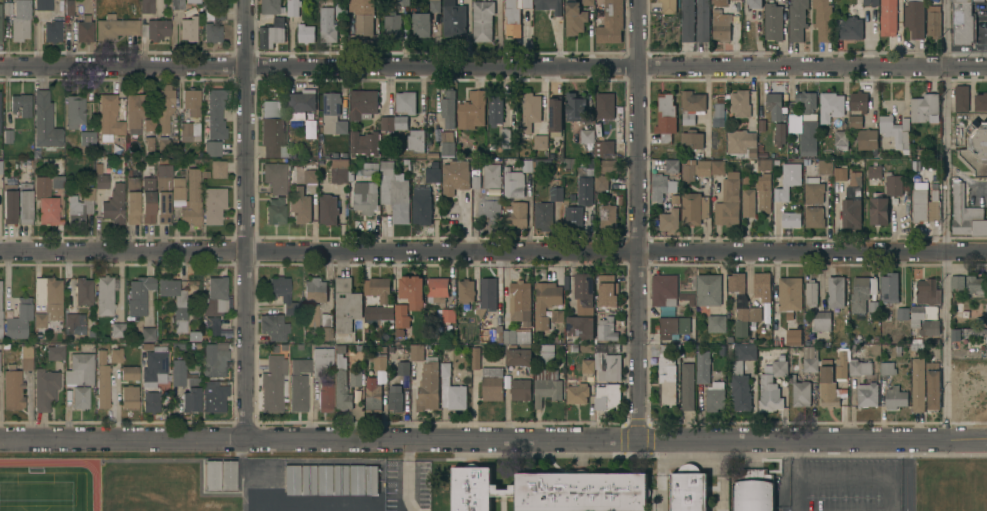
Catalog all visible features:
building: (731, 0)
building: (963, 0)
building: (192, 1)
building: (403, 2)
building: (588, 2)
building: (720, 2)
building: (870, 2)
building: (754, 3)
building: (527, 4)
building: (42, 5)
building: (176, 5)
building: (549, 5)
building: (146, 6)
building: (435, 6)
building: (668, 6)
building: (271, 7)
building: (293, 7)
building: (7, 8)
building: (68, 8)
building: (340, 9)
building: (213, 14)
building: (362, 16)
building: (512, 17)
building: (888, 17)
building: (574, 18)
building: (914, 18)
building: (453, 19)
building: (797, 19)
building: (482, 20)
building: (687, 20)
building: (822, 20)
building: (19, 21)
building: (703, 21)
building: (773, 21)
building: (933, 21)
building: (611, 22)
building: (963, 23)
building: (421, 24)
building: (328, 25)
building: (392, 25)
building: (721, 25)
building: (114, 28)
building: (849, 28)
building: (154, 29)
building: (188, 29)
building: (83, 30)
building: (51, 31)
road: (944, 31)
building: (211, 33)
building: (271, 33)
building: (306, 33)
road: (493, 65)
building: (961, 98)
building: (806, 101)
building: (859, 101)
building: (981, 101)
building: (191, 102)
building: (406, 102)
building: (740, 103)
building: (300, 104)
building: (363, 104)
building: (20, 105)
building: (605, 105)
building: (691, 106)
building: (776, 106)
building: (830, 106)
building: (164, 107)
building: (575, 107)
building: (448, 108)
building: (925, 108)
building: (495, 109)
building: (472, 110)
building: (74, 111)
building: (719, 111)
building: (135, 113)
building: (215, 114)
building: (332, 114)
building: (529, 114)
building: (555, 115)
building: (109, 116)
building: (666, 117)
building: (44, 121)
building: (855, 121)
building: (387, 122)
building: (400, 122)
building: (795, 123)
building: (149, 126)
building: (272, 130)
building: (895, 130)
building: (188, 131)
building: (779, 134)
building: (8, 137)
building: (574, 137)
building: (90, 138)
building: (505, 138)
building: (808, 138)
building: (693, 139)
building: (841, 139)
building: (868, 140)
building: (416, 141)
building: (540, 141)
building: (363, 142)
building: (742, 142)
building: (447, 143)
building: (597, 143)
building: (149, 144)
building: (166, 144)
building: (827, 146)
building: (211, 148)
building: (976, 151)
road: (944, 155)
building: (540, 164)
building: (756, 164)
building: (672, 165)
building: (608, 166)
building: (825, 166)
building: (0, 167)
building: (703, 167)
building: (718, 167)
building: (217, 169)
building: (371, 169)
building: (340, 170)
building: (874, 171)
building: (688, 172)
building: (56, 173)
building: (309, 173)
building: (840, 173)
building: (293, 175)
building: (433, 175)
building: (492, 175)
building: (274, 177)
building: (100, 178)
building: (456, 178)
building: (475, 178)
building: (788, 180)
building: (601, 182)
building: (513, 183)
building: (893, 184)
building: (661, 186)
road: (980, 186)
building: (177, 189)
building: (585, 190)
building: (764, 190)
building: (813, 190)
building: (162, 191)
building: (394, 192)
building: (556, 194)
building: (366, 199)
building: (132, 200)
building: (191, 200)
building: (148, 201)
building: (729, 201)
building: (45, 202)
building: (748, 202)
building: (852, 202)
building: (925, 203)
building: (9, 204)
building: (24, 204)
building: (113, 205)
building: (213, 205)
building: (300, 205)
building: (421, 205)
building: (489, 206)
building: (79, 207)
building: (694, 208)
building: (328, 209)
building: (878, 210)
building: (274, 211)
building: (516, 214)
building: (966, 214)
building: (544, 215)
building: (814, 216)
building: (574, 217)
building: (608, 217)
building: (791, 219)
road: (638, 220)
building: (670, 220)
road: (242, 221)
road: (894, 227)
road: (493, 251)
building: (761, 283)
building: (957, 283)
building: (975, 285)
building: (889, 287)
building: (437, 289)
building: (606, 289)
building: (315, 290)
building: (664, 290)
building: (708, 290)
building: (83, 291)
building: (466, 291)
building: (412, 292)
building: (812, 292)
building: (836, 292)
building: (928, 292)
building: (862, 293)
building: (281, 294)
building: (488, 294)
building: (790, 294)
building: (48, 296)
building: (104, 296)
building: (136, 297)
building: (688, 297)
building: (216, 298)
building: (378, 300)
building: (520, 300)
building: (174, 302)
building: (546, 302)
building: (739, 303)
building: (346, 305)
building: (986, 307)
building: (582, 308)
building: (873, 310)
building: (902, 313)
building: (963, 313)
building: (755, 314)
building: (448, 315)
building: (917, 315)
building: (312, 316)
building: (402, 316)
building: (557, 317)
building: (18, 320)
building: (38, 320)
building: (326, 320)
building: (822, 321)
building: (209, 322)
building: (75, 323)
building: (717, 323)
building: (0, 326)
building: (273, 327)
building: (673, 327)
building: (930, 327)
building: (606, 329)
building: (117, 330)
building: (974, 331)
building: (326, 334)
building: (147, 335)
building: (505, 335)
building: (956, 335)
building: (193, 337)
road: (944, 344)
building: (340, 349)
building: (55, 352)
building: (417, 352)
building: (547, 352)
building: (115, 355)
building: (977, 355)
building: (519, 357)
building: (25, 358)
building: (475, 358)
building: (810, 359)
building: (215, 360)
building: (320, 360)
building: (378, 360)
building: (608, 361)
building: (588, 366)
building: (842, 366)
building: (154, 367)
building: (859, 367)
building: (403, 368)
building: (888, 368)
building: (79, 370)
building: (129, 373)
building: (178, 373)
building: (666, 375)
building: (741, 376)
building: (356, 377)
building: (101, 381)
building: (709, 381)
building: (492, 383)
building: (273, 384)
building: (341, 384)
building: (298, 385)
building: (547, 385)
building: (918, 385)
building: (933, 385)
building: (688, 386)
building: (429, 387)
building: (12, 389)
building: (45, 389)
building: (521, 389)
building: (830, 389)
building: (451, 390)
building: (770, 390)
building: (576, 391)
building: (373, 395)
building: (867, 395)
building: (128, 397)
building: (190, 397)
building: (213, 397)
building: (608, 397)
building: (896, 397)
building: (80, 398)
building: (325, 398)
building: (395, 398)
building: (151, 402)
road: (493, 440)
building: (211, 475)
building: (227, 475)
building: (313, 475)
road: (242, 476)
road: (408, 476)
road: (795, 476)
building: (689, 489)
building: (551, 490)
road: (891, 493)
building: (753, 495)
building: (315, 506)

